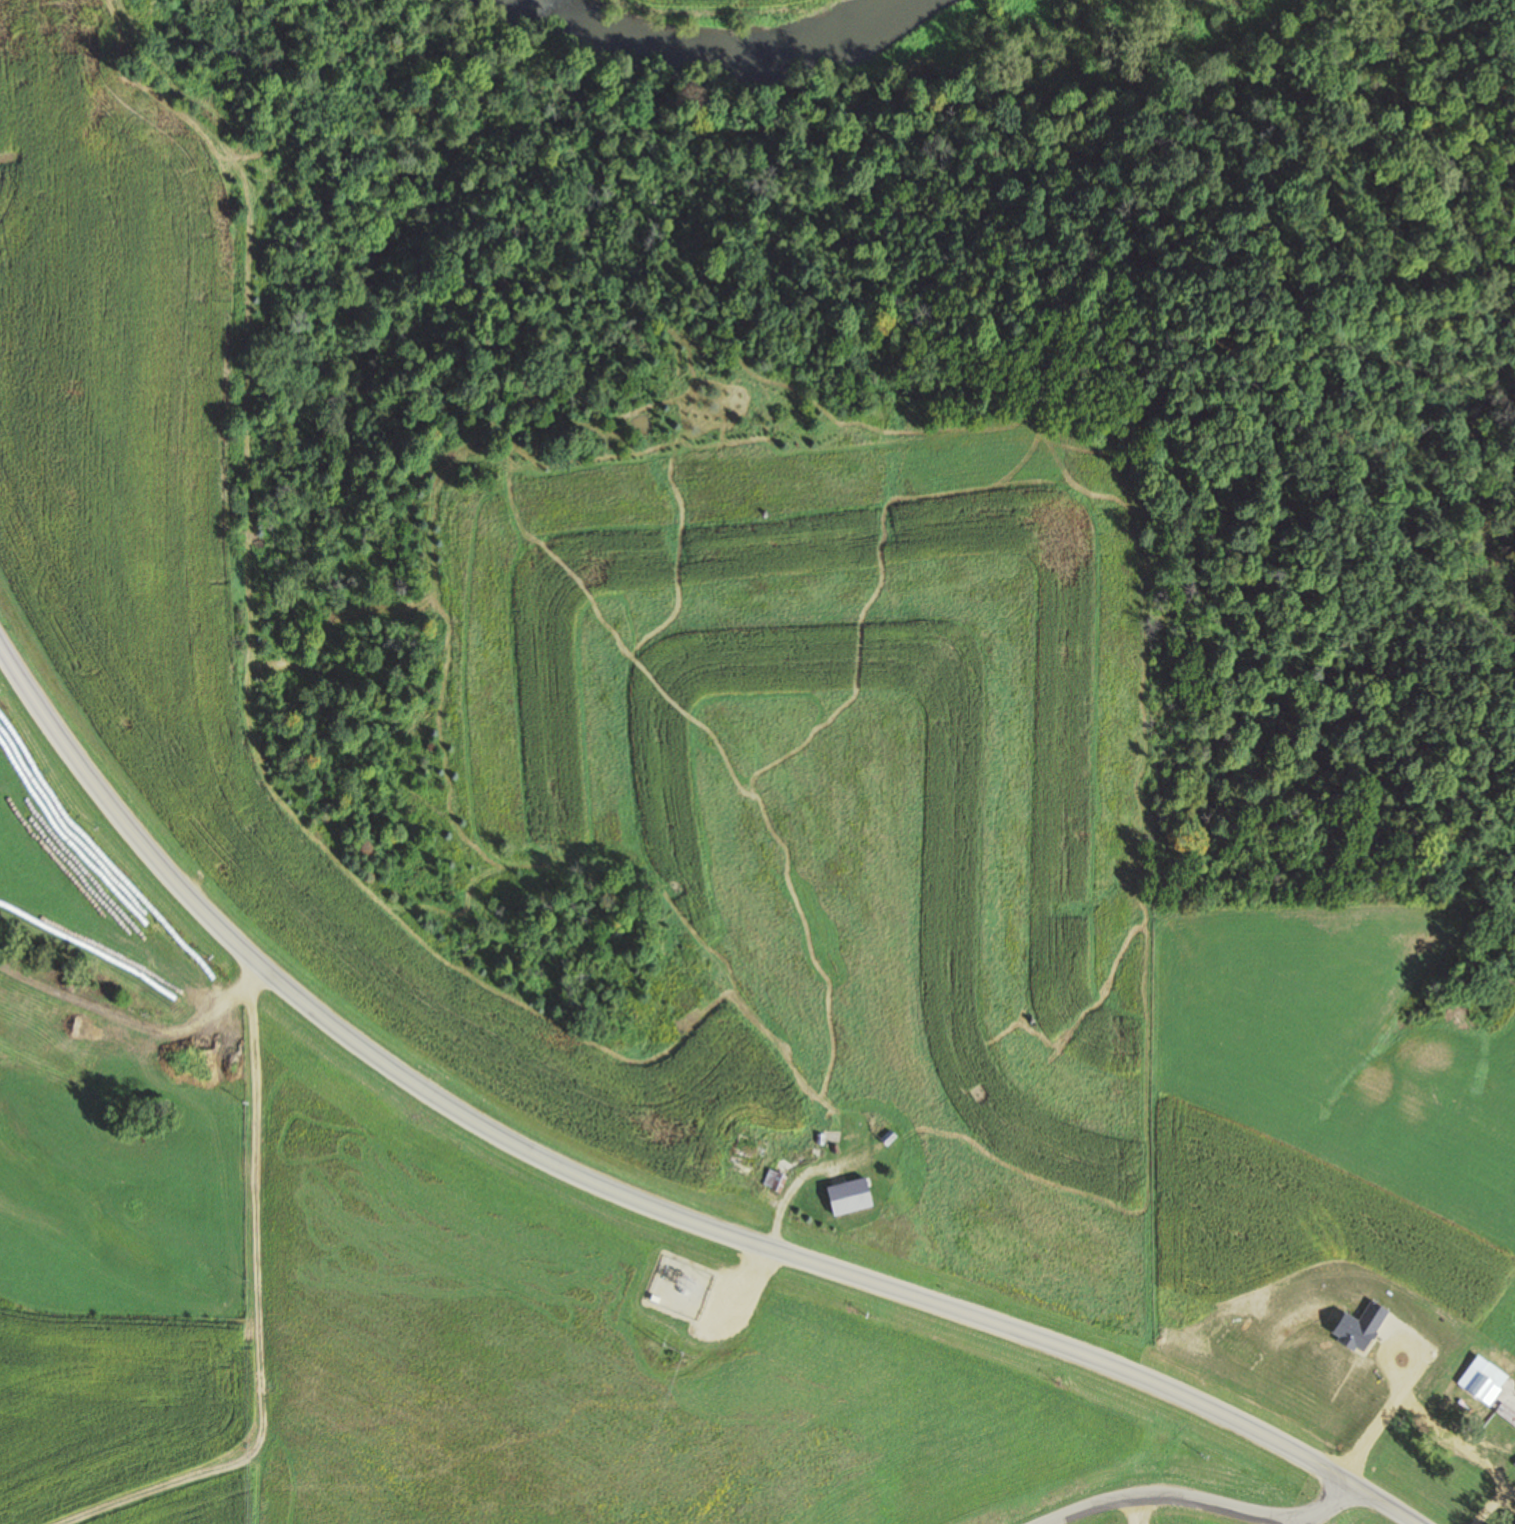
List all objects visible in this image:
river: (707, 33)
road: (119, 819)
road: (137, 1017)
building: (886, 1137)
building: (746, 1151)
building: (772, 1179)
road: (830, 1269)
power substation: (680, 1287)
building: (1481, 1380)
building: (1505, 1417)
building: (1514, 1464)
road: (1198, 1500)
road: (1121, 1508)

